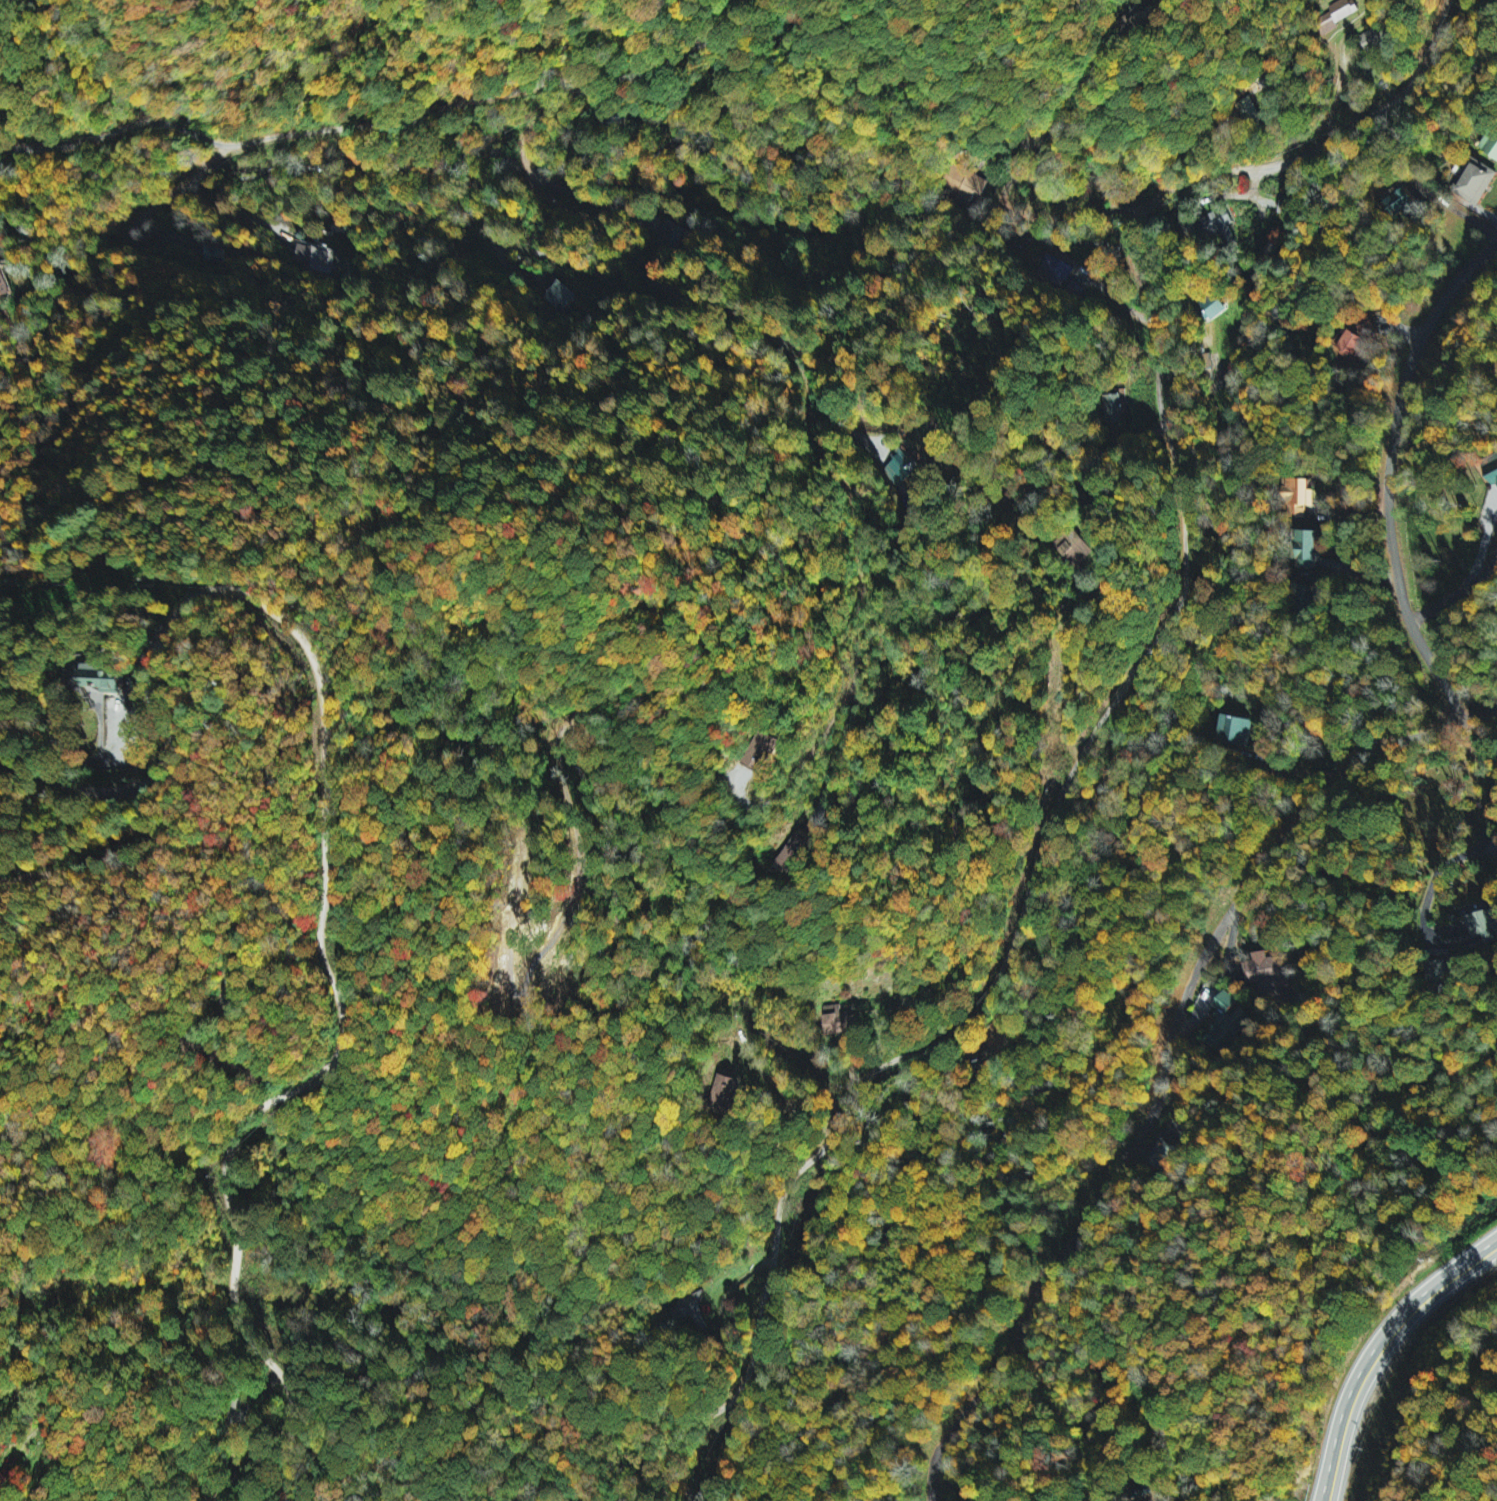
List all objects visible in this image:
building: (1339, 13)
road: (682, 54)
building: (1249, 112)
road: (300, 133)
road: (1040, 137)
building: (1490, 146)
building: (1475, 182)
building: (969, 185)
building: (1220, 227)
building: (315, 256)
building: (1054, 270)
building: (5, 284)
building: (563, 297)
building: (1210, 308)
road: (732, 314)
building: (1351, 344)
building: (1115, 409)
building: (1491, 470)
building: (898, 473)
road: (1388, 473)
building: (1301, 496)
road: (322, 532)
building: (1310, 545)
building: (1074, 548)
road: (1457, 594)
building: (101, 678)
road: (1105, 715)
road: (1480, 715)
building: (1236, 731)
building: (761, 751)
road: (80, 786)
building: (795, 852)
road: (121, 866)
building: (1483, 928)
road: (319, 944)
building: (1264, 969)
building: (833, 1020)
road: (1164, 1077)
building: (726, 1089)
building: (690, 1307)
road: (1383, 1356)
road: (52, 1447)

